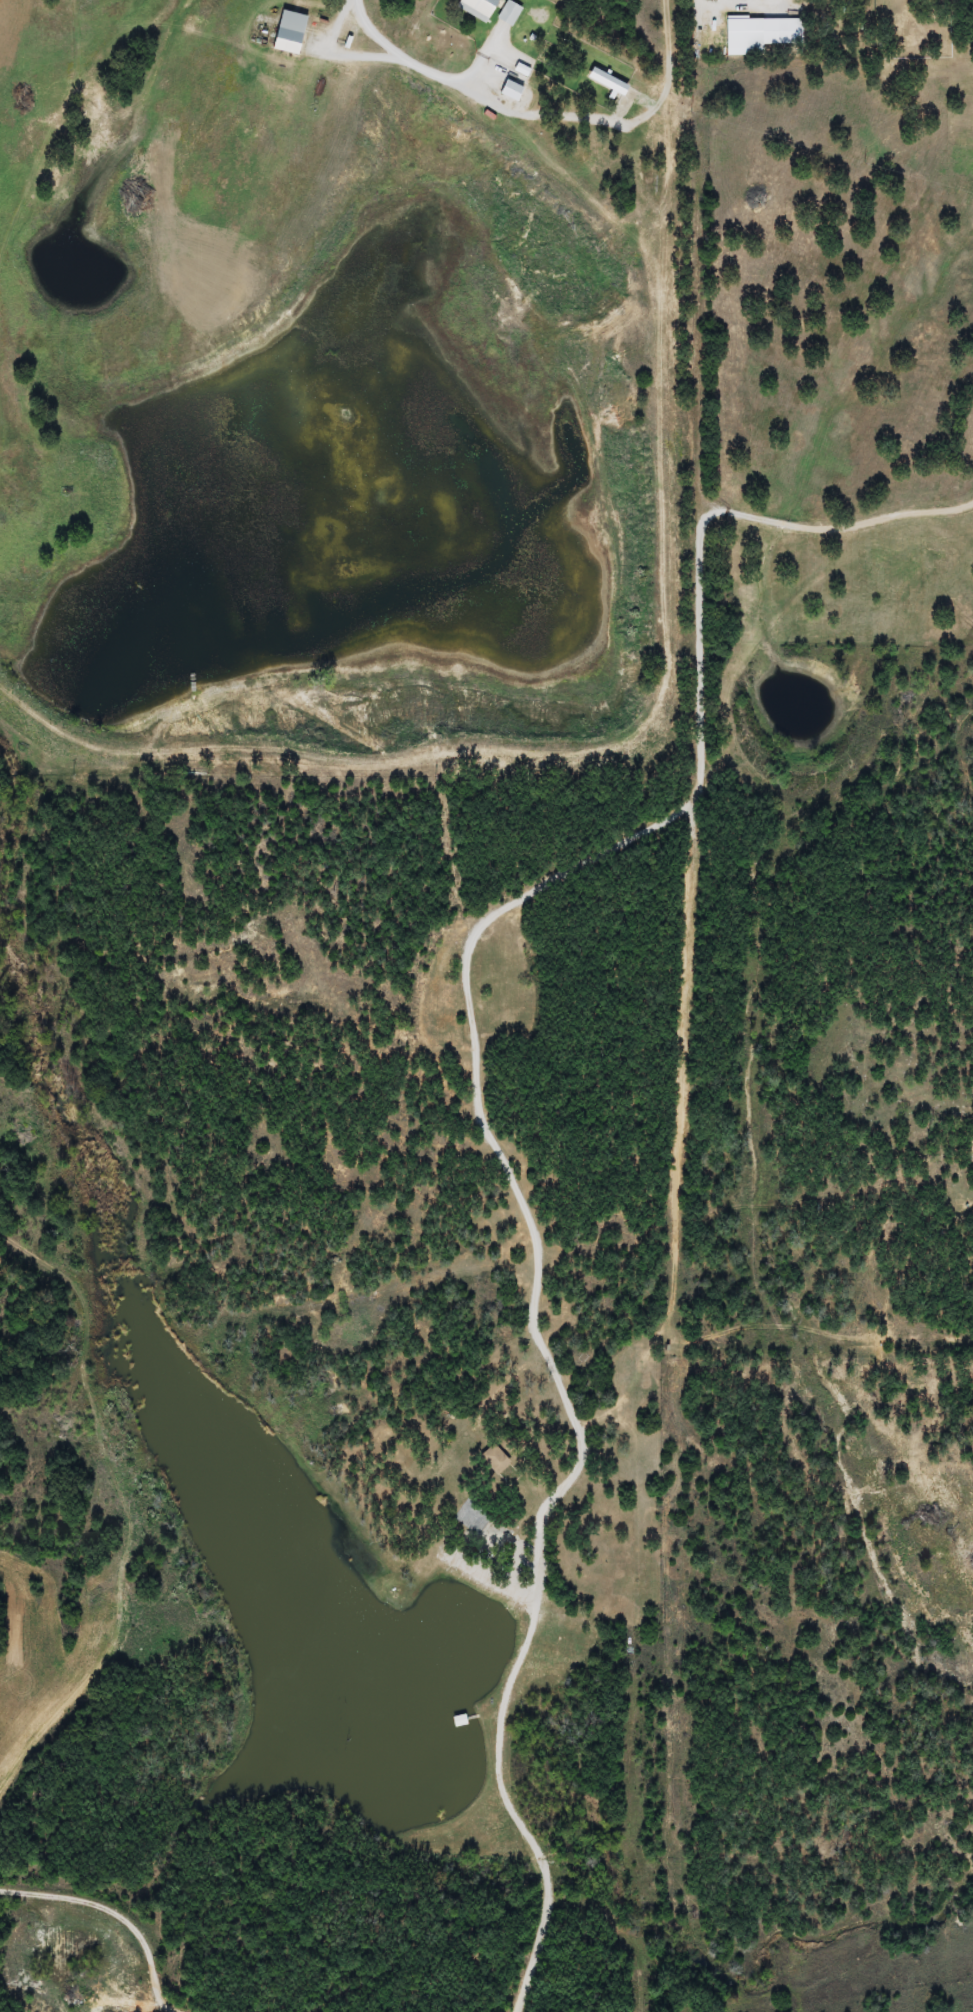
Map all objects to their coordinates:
building: (475, 8)
building: (874, 10)
building: (507, 14)
building: (285, 31)
building: (742, 32)
building: (494, 1459)

